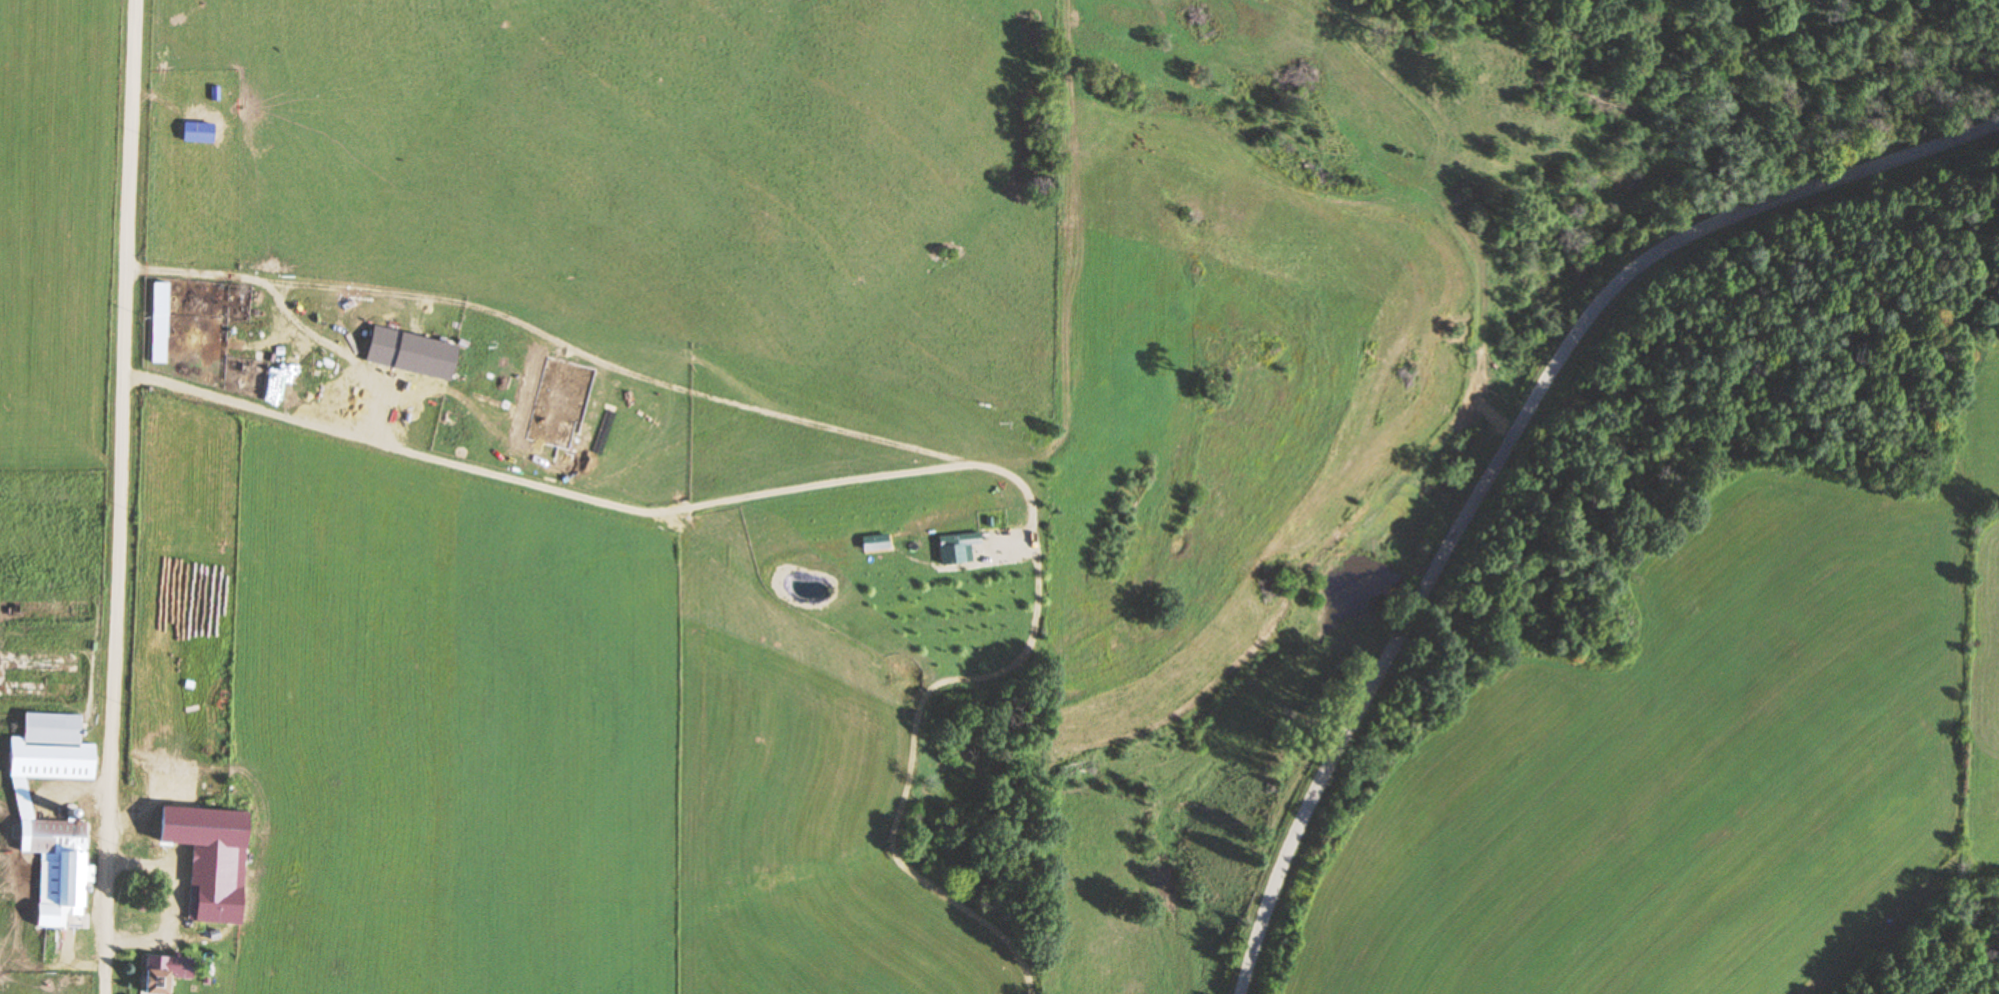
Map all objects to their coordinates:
road: (1508, 447)
road: (117, 496)
building: (54, 728)
building: (62, 876)
building: (190, 908)
road: (132, 940)
building: (154, 974)

